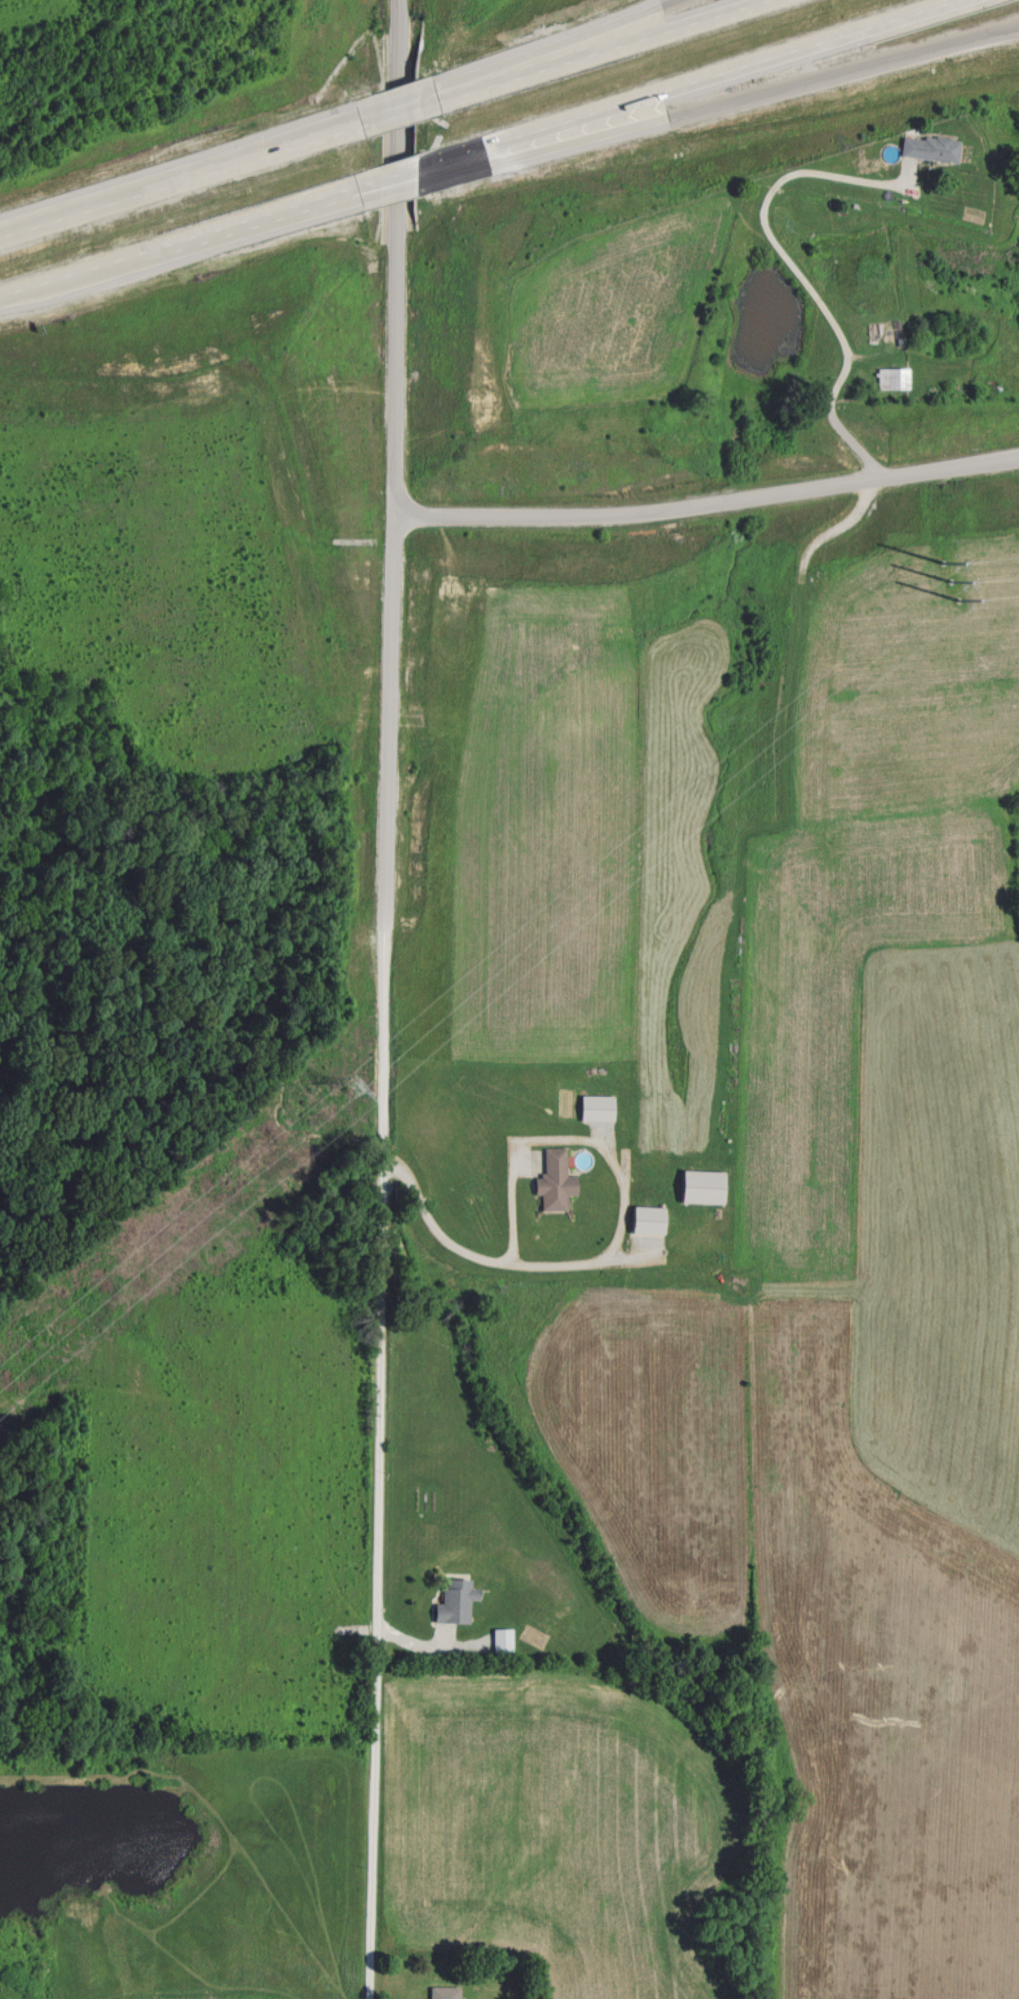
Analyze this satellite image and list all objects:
road: (626, 28)
road: (652, 28)
road: (499, 78)
road: (698, 82)
road: (729, 103)
road: (399, 113)
building: (930, 147)
road: (178, 181)
road: (396, 181)
road: (401, 200)
road: (178, 249)
road: (393, 255)
road: (181, 263)
road: (803, 280)
building: (892, 376)
road: (710, 510)
power tower: (950, 577)
power tower: (349, 1084)
building: (596, 1106)
building: (554, 1180)
building: (702, 1186)
building: (647, 1220)
road: (619, 1236)
road: (379, 1254)
building: (455, 1598)
building: (502, 1640)
building: (444, 1992)

